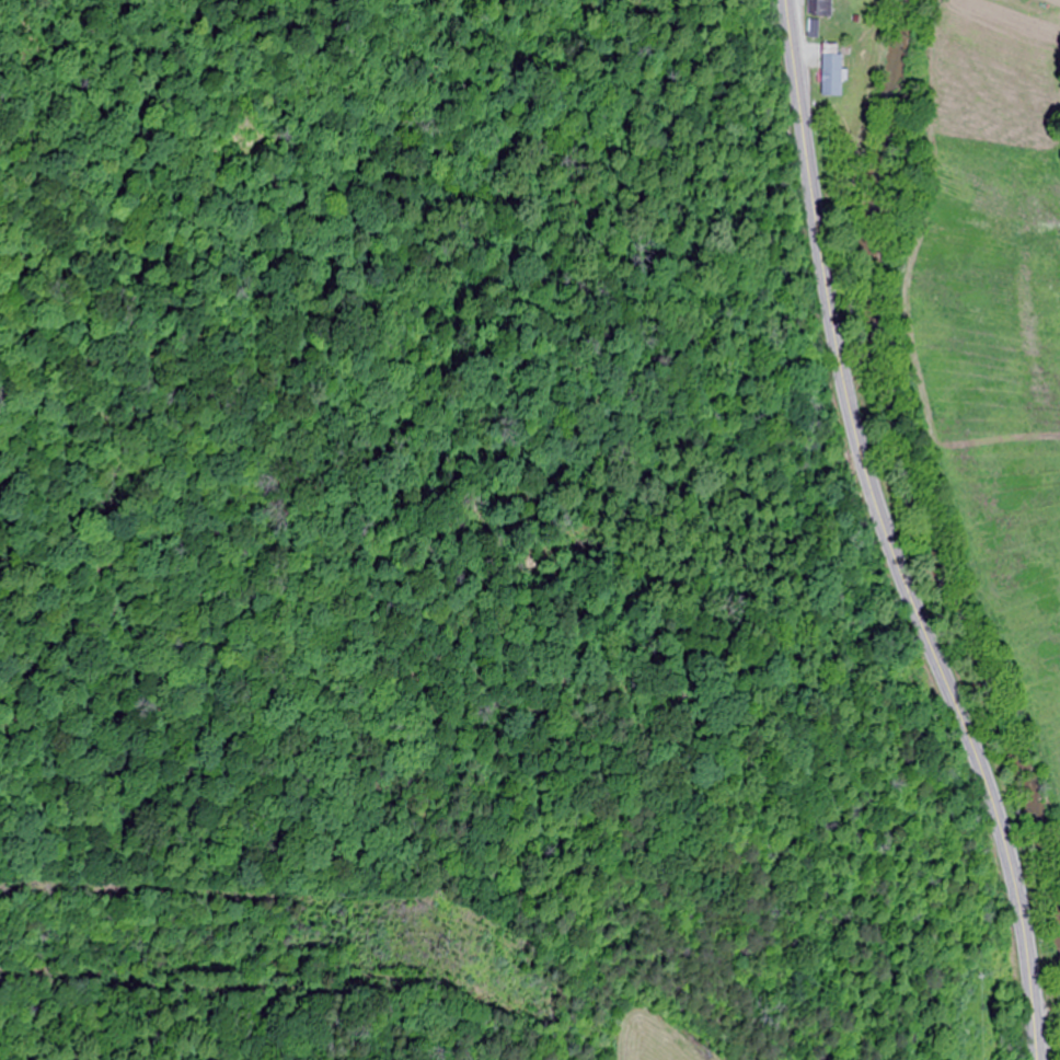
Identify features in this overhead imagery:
building: (818, 9)
building: (829, 71)
river: (902, 459)
road: (887, 538)

